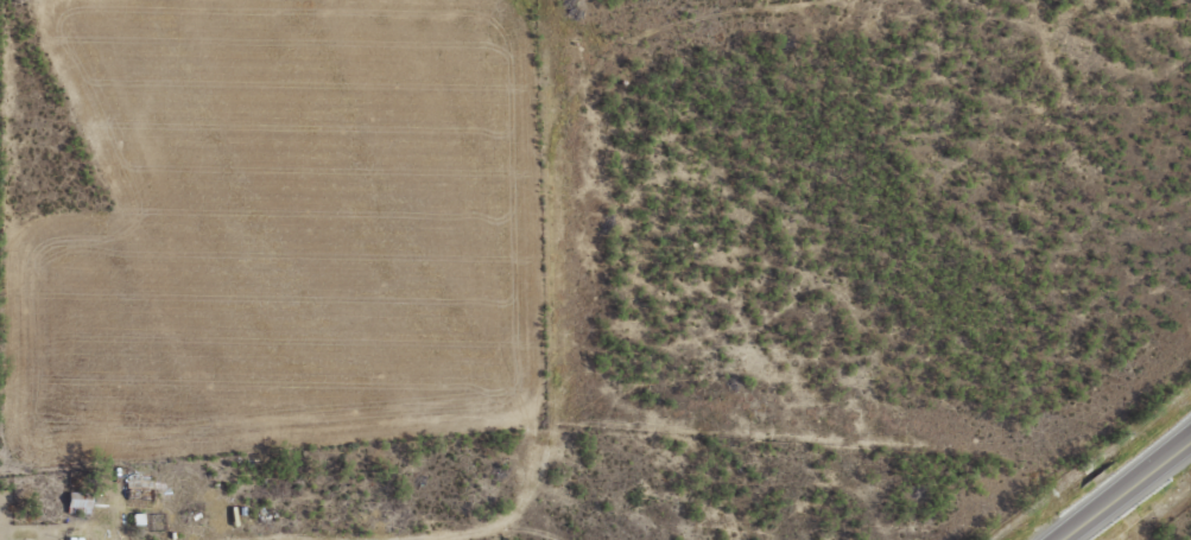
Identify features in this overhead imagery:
building: (141, 487)
road: (1121, 487)
building: (80, 503)

